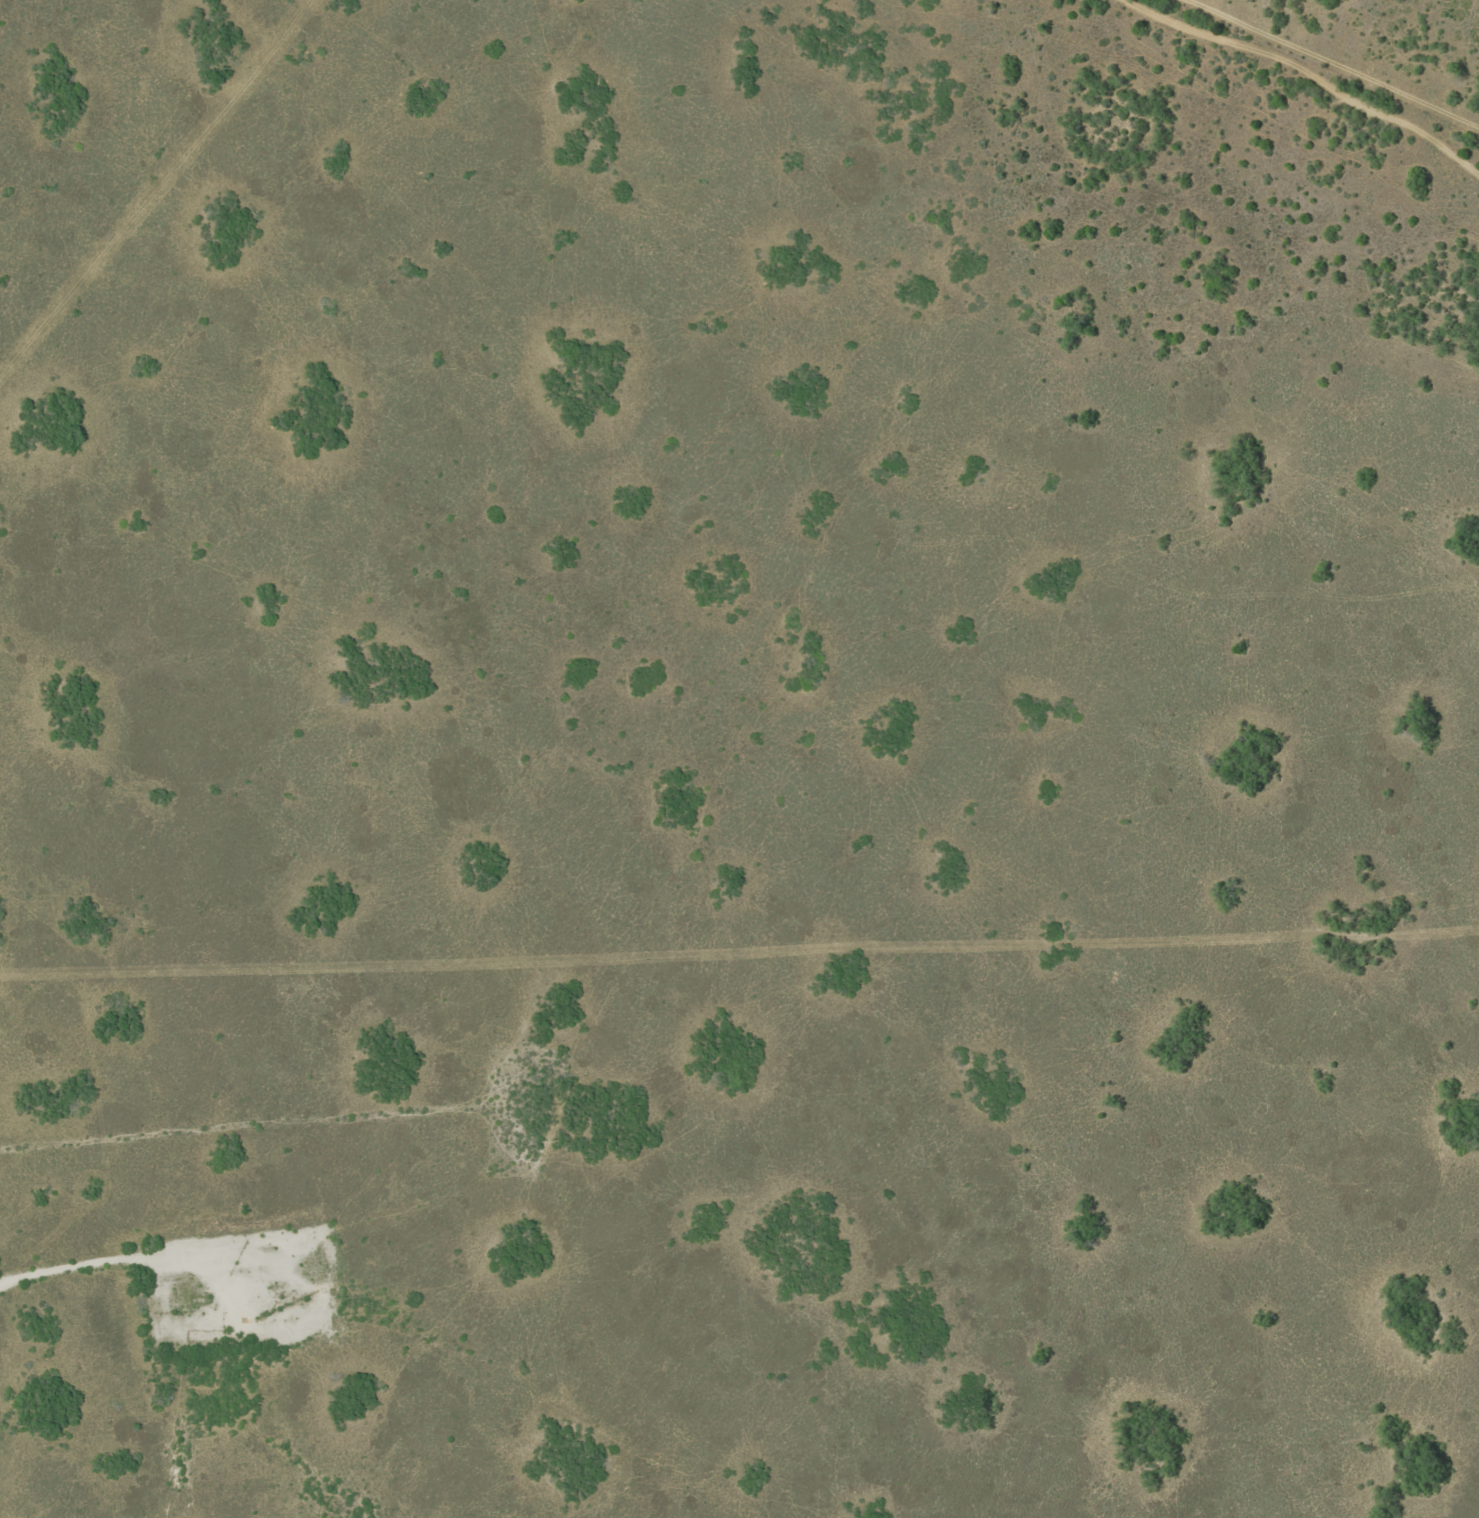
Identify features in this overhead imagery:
road: (241, 1132)

